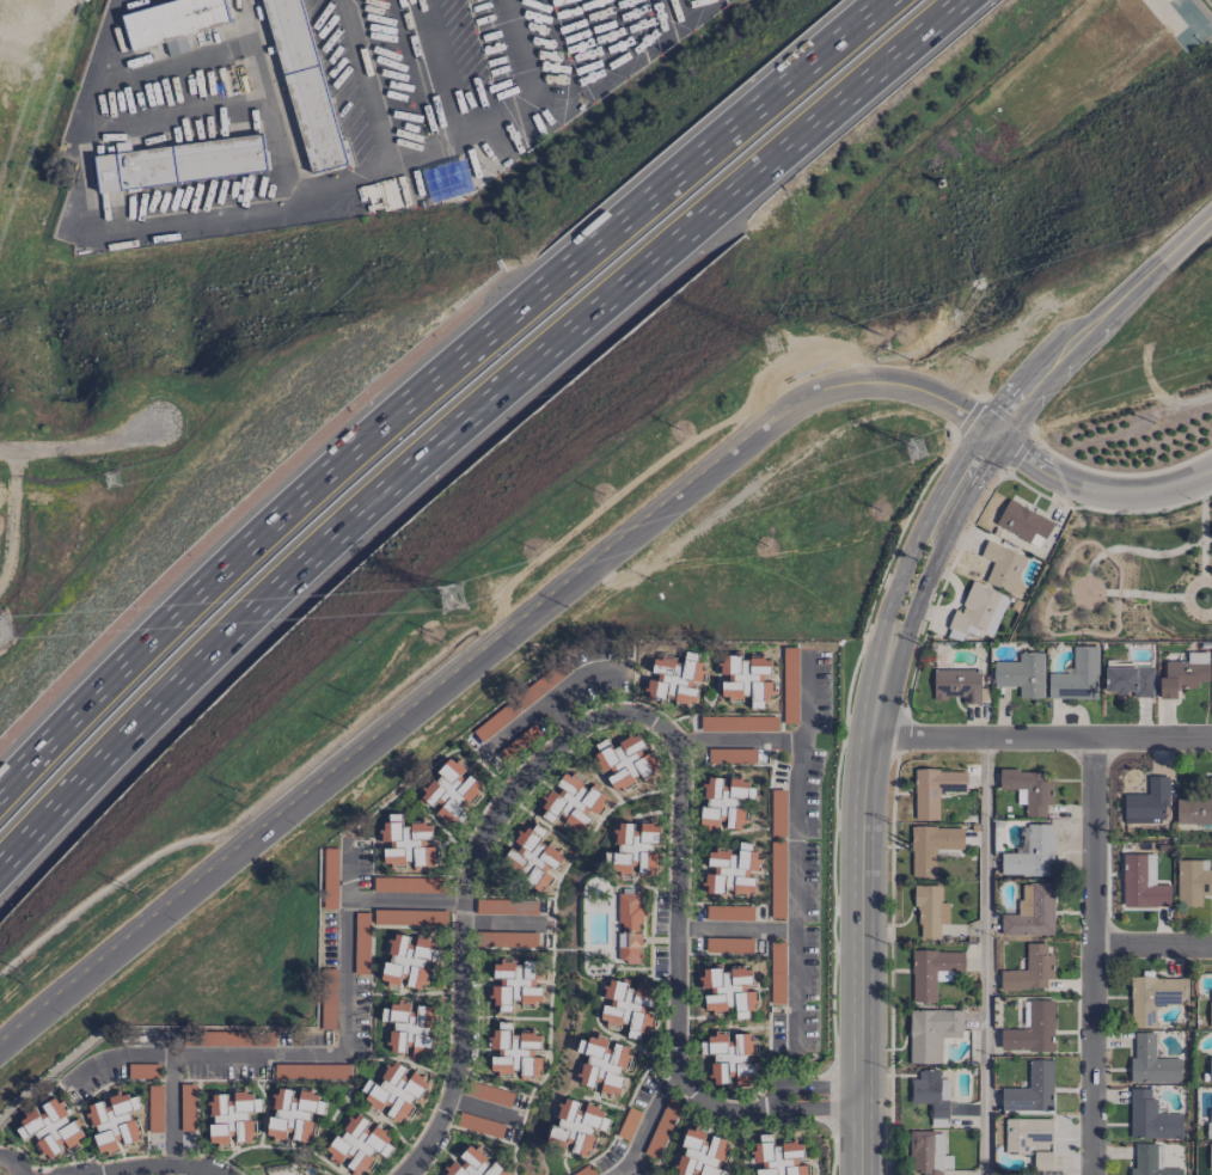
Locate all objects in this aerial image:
road: (1198, 14)
building: (173, 22)
road: (175, 68)
building: (304, 84)
road: (362, 84)
road: (270, 97)
building: (179, 160)
road: (290, 198)
road: (1156, 265)
road: (1071, 343)
power tower: (776, 345)
road: (890, 383)
road: (435, 384)
road: (1016, 400)
road: (461, 414)
road: (81, 446)
power tower: (916, 451)
power tower: (112, 482)
road: (978, 482)
road: (1095, 489)
building: (1023, 524)
road: (917, 534)
building: (1002, 565)
park: (1125, 580)
road: (922, 595)
power tower: (453, 602)
building: (977, 613)
power substation: (5, 629)
building: (1021, 674)
building: (1183, 674)
building: (1076, 677)
building: (674, 679)
building: (745, 679)
building: (1130, 680)
building: (545, 681)
building: (789, 685)
building: (956, 685)
road: (564, 687)
building: (495, 722)
building: (737, 723)
road: (391, 726)
road: (519, 726)
road: (1040, 738)
building: (519, 743)
road: (736, 745)
building: (730, 755)
building: (622, 760)
road: (532, 764)
building: (934, 790)
building: (1028, 790)
building: (448, 791)
road: (798, 792)
building: (723, 802)
building: (573, 803)
building: (1147, 803)
building: (1195, 807)
building: (777, 813)
building: (406, 843)
building: (635, 847)
building: (931, 847)
building: (330, 853)
building: (1032, 853)
building: (531, 856)
building: (732, 870)
building: (777, 880)
building: (1193, 882)
building: (408, 885)
building: (1143, 885)
building: (330, 887)
road: (379, 898)
building: (506, 906)
building: (929, 911)
building: (1032, 911)
building: (728, 913)
road: (859, 916)
building: (410, 917)
road: (736, 928)
building: (629, 929)
building: (508, 940)
building: (361, 943)
road: (1151, 944)
road: (1090, 955)
road: (983, 956)
building: (406, 961)
building: (932, 971)
building: (1029, 971)
building: (777, 973)
building: (514, 984)
road: (796, 989)
building: (727, 991)
building: (1153, 997)
building: (626, 1008)
building: (1210, 1016)
building: (409, 1028)
building: (1032, 1029)
building: (931, 1033)
road: (678, 1038)
building: (513, 1052)
road: (281, 1053)
building: (730, 1058)
building: (1151, 1061)
building: (602, 1064)
building: (1210, 1070)
building: (142, 1071)
building: (311, 1071)
road: (807, 1089)
building: (1032, 1090)
building: (394, 1091)
building: (491, 1094)
building: (931, 1095)
building: (186, 1107)
road: (173, 1108)
road: (479, 1109)
road: (810, 1109)
building: (292, 1114)
building: (232, 1118)
building: (630, 1118)
building: (1151, 1118)
building: (114, 1121)
road: (645, 1124)
building: (1210, 1124)
building: (577, 1125)
road: (433, 1127)
building: (50, 1128)
building: (661, 1128)
building: (1030, 1140)
building: (357, 1144)
building: (700, 1153)
building: (926, 1153)
building: (1210, 1156)
building: (777, 1157)
building: (1150, 1161)
road: (12, 1162)
building: (473, 1163)
road: (145, 1164)
building: (584, 1171)

